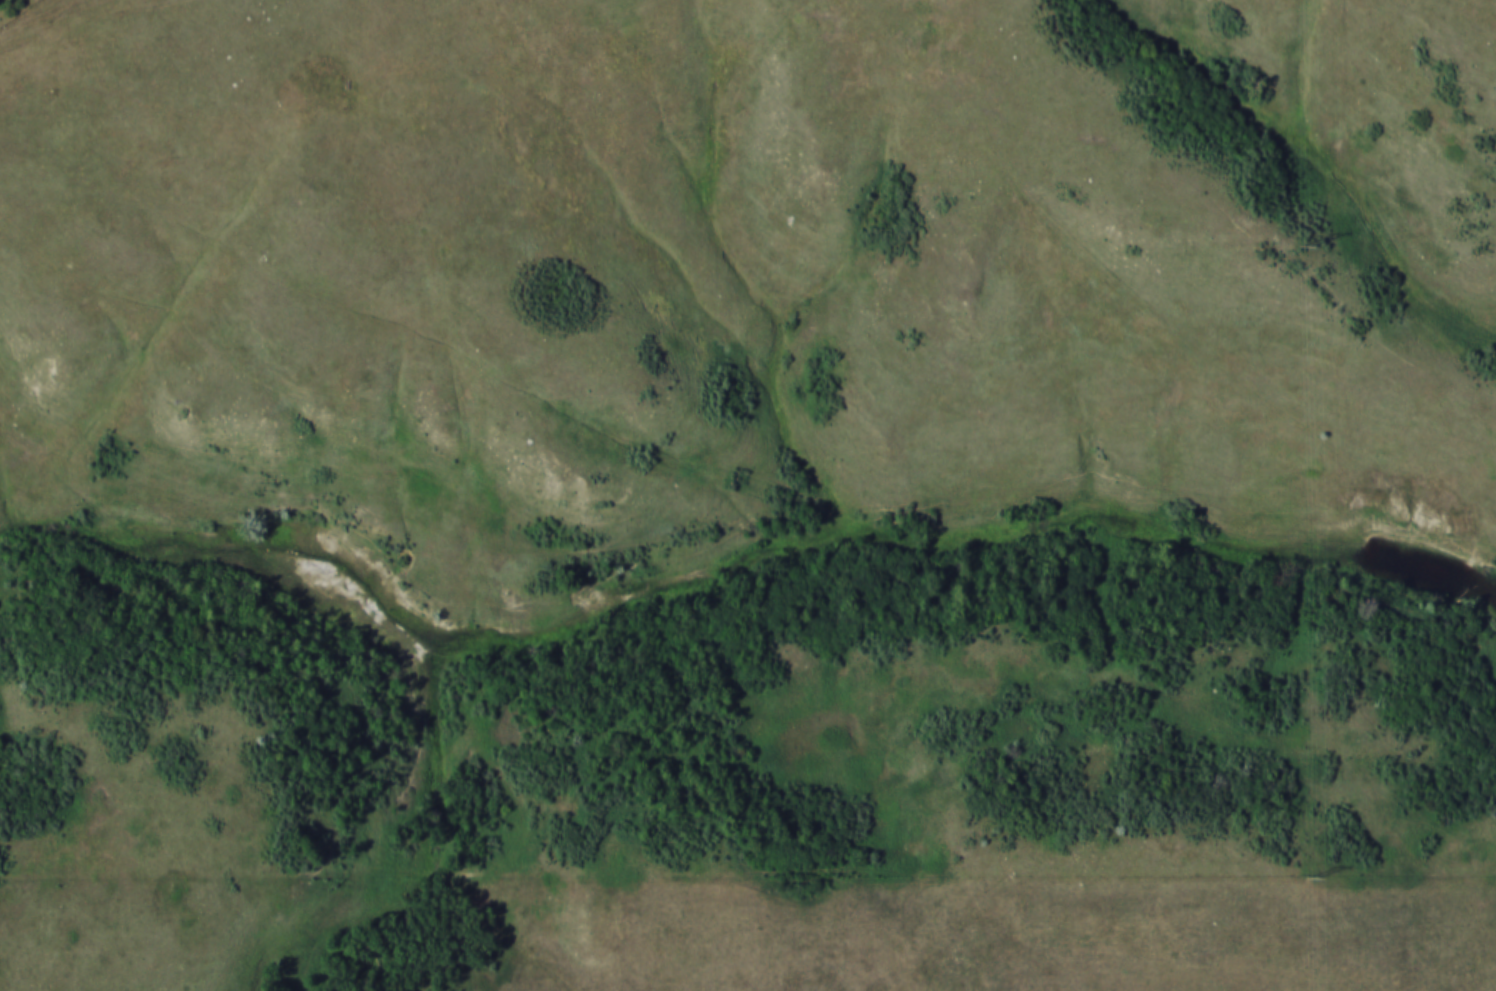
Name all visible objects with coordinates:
power tower: (1310, 250)
power tower: (1322, 877)

